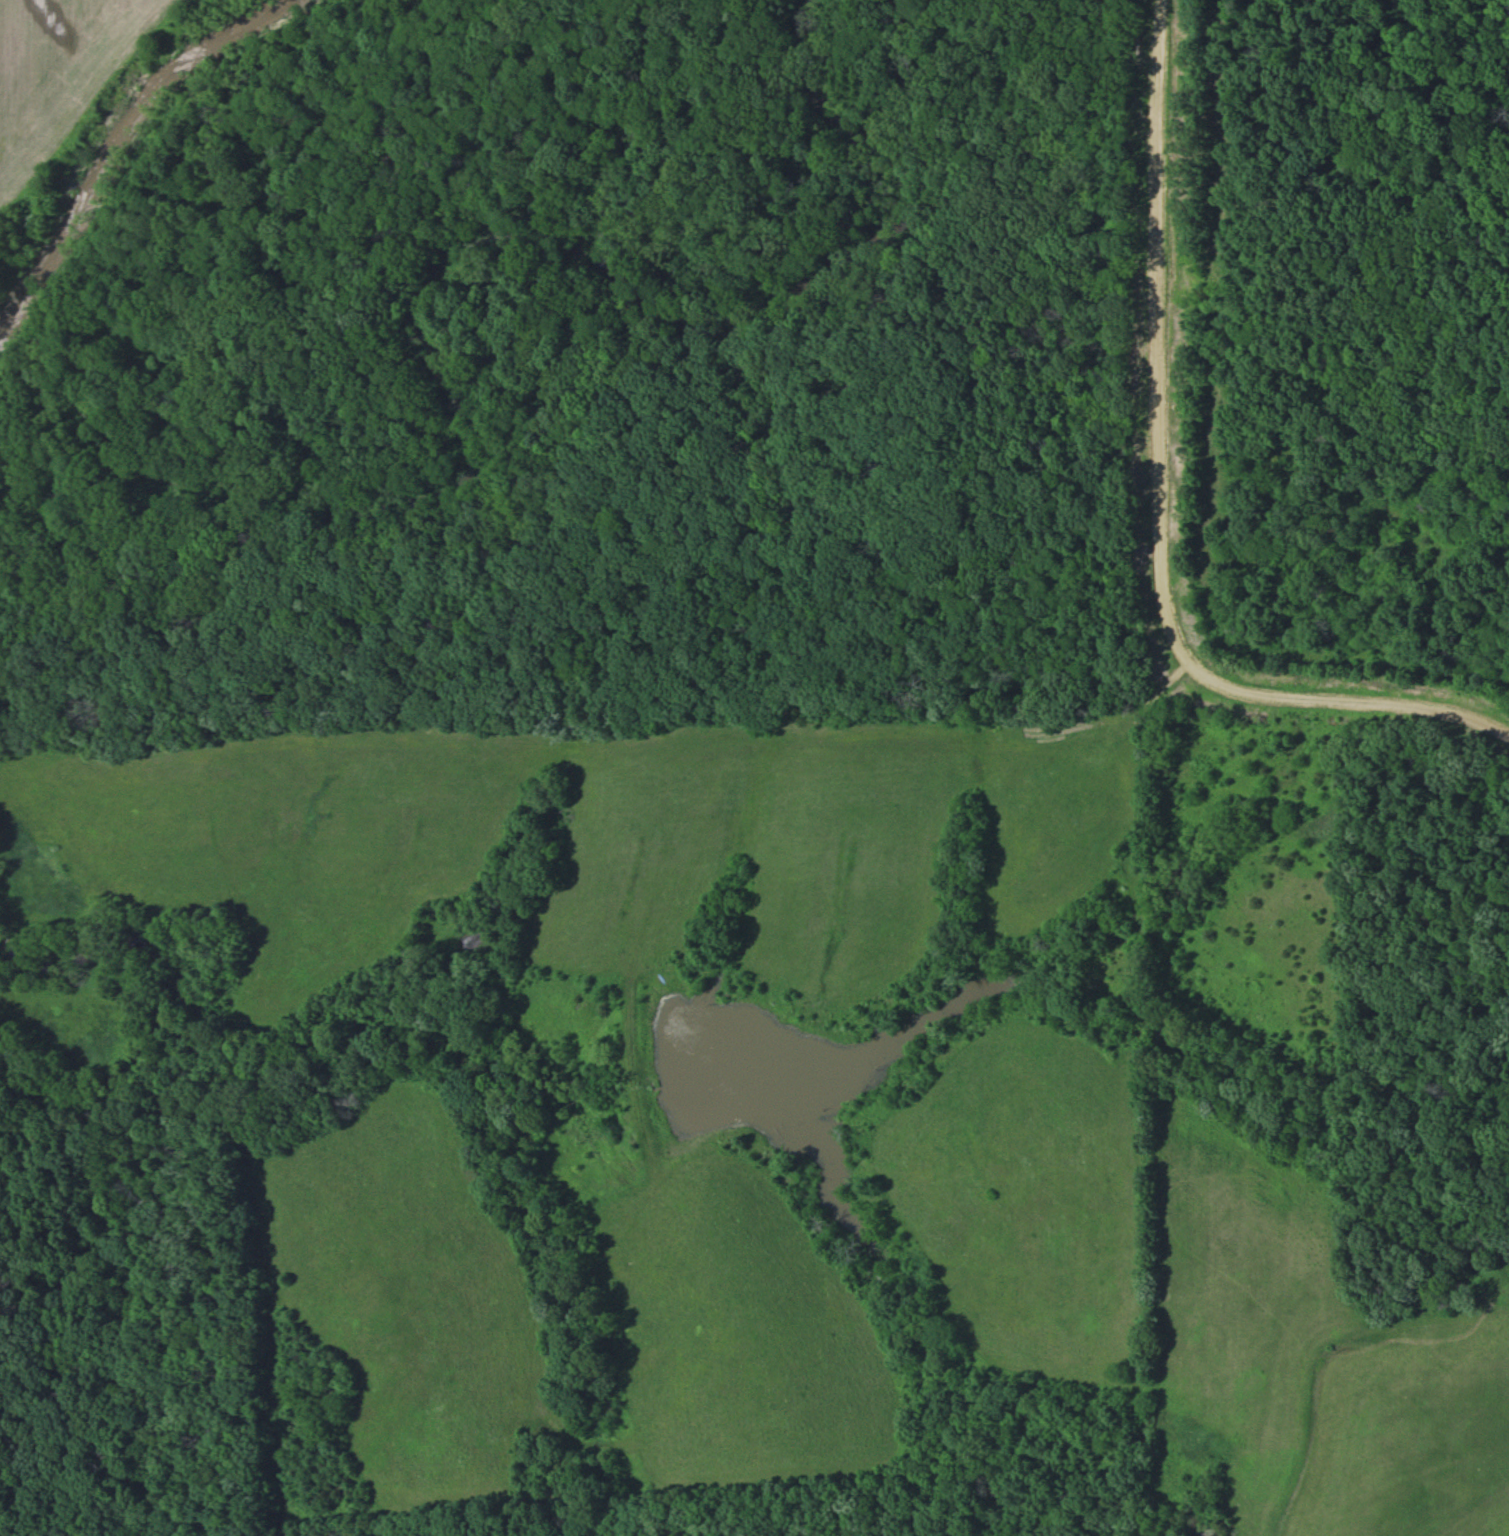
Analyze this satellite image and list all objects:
road: (1157, 503)

